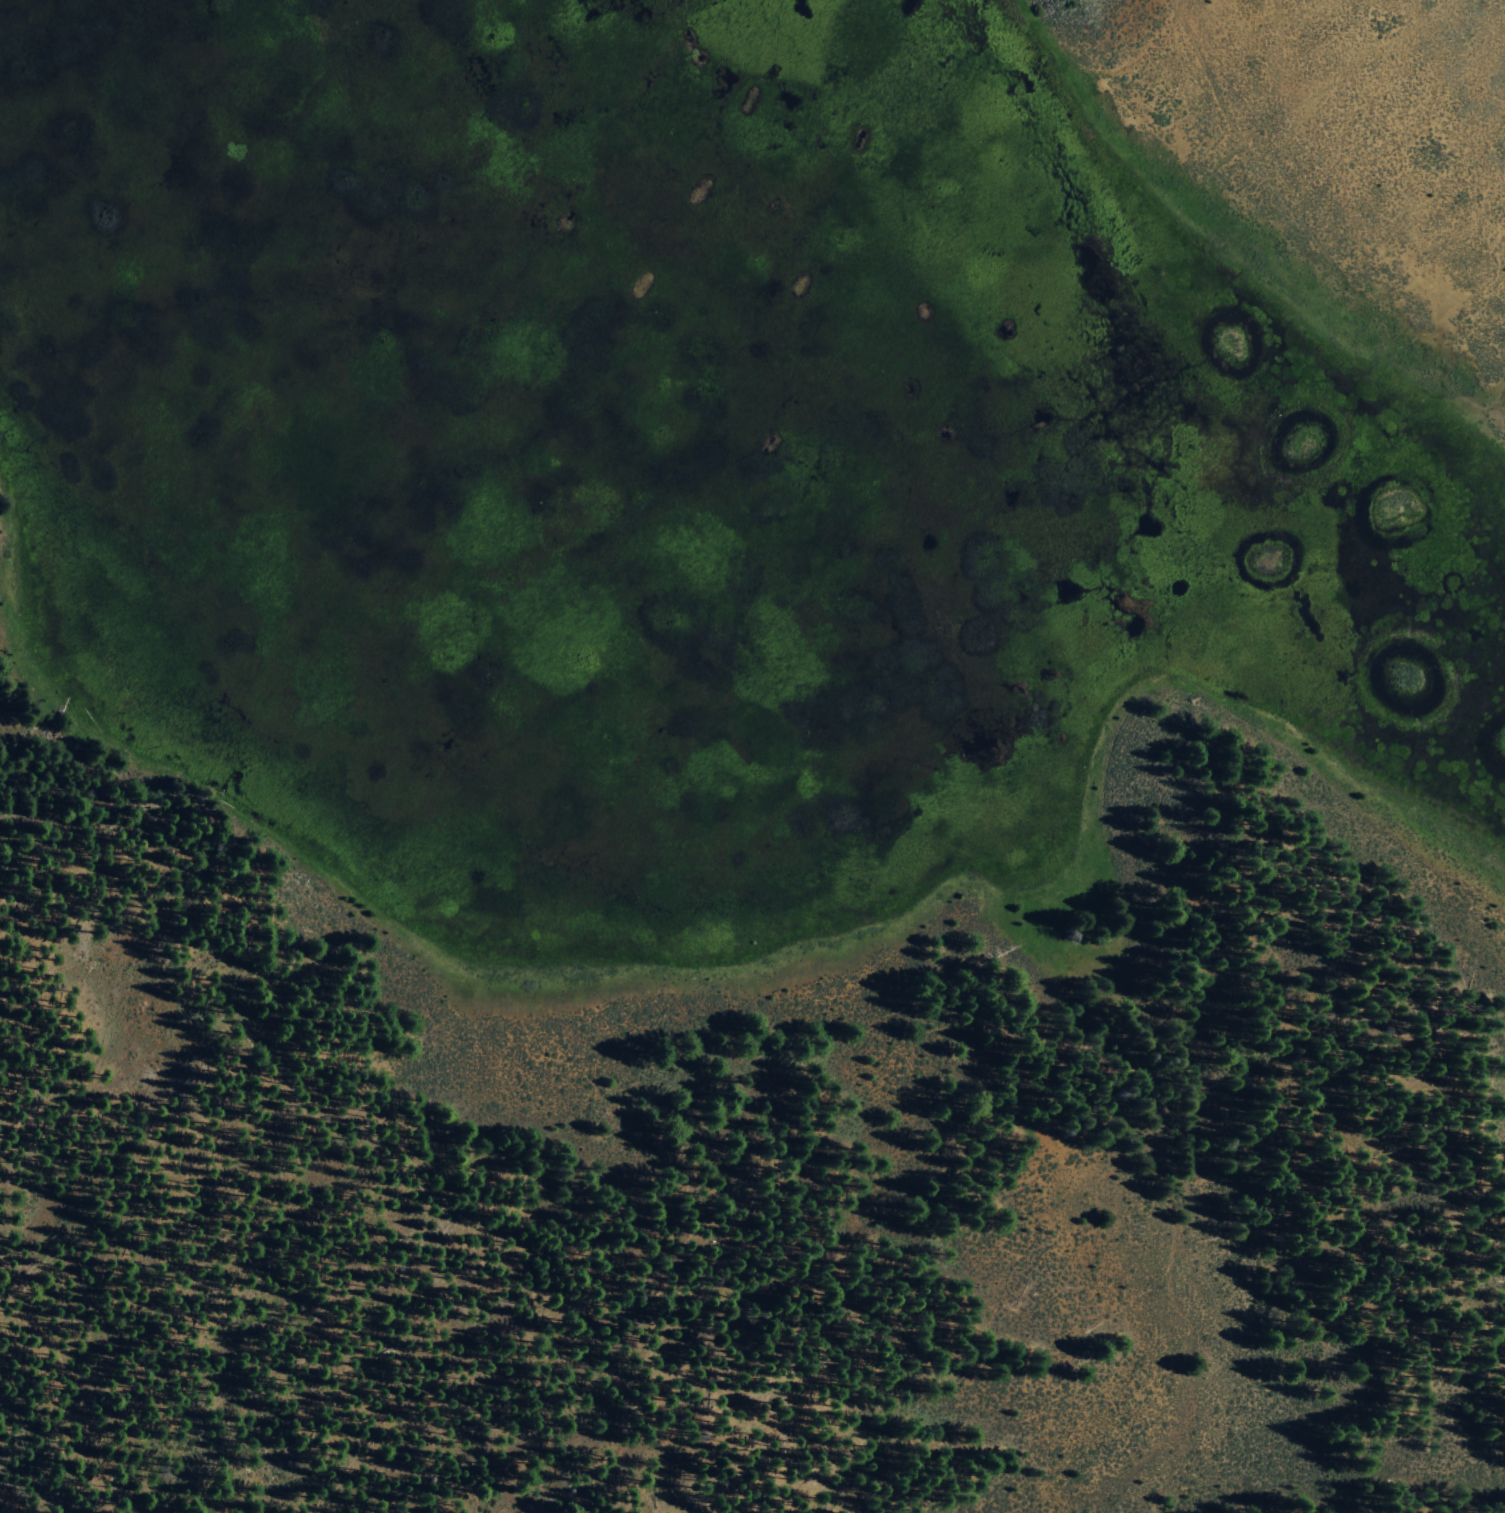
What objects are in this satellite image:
road: (10, 1505)

